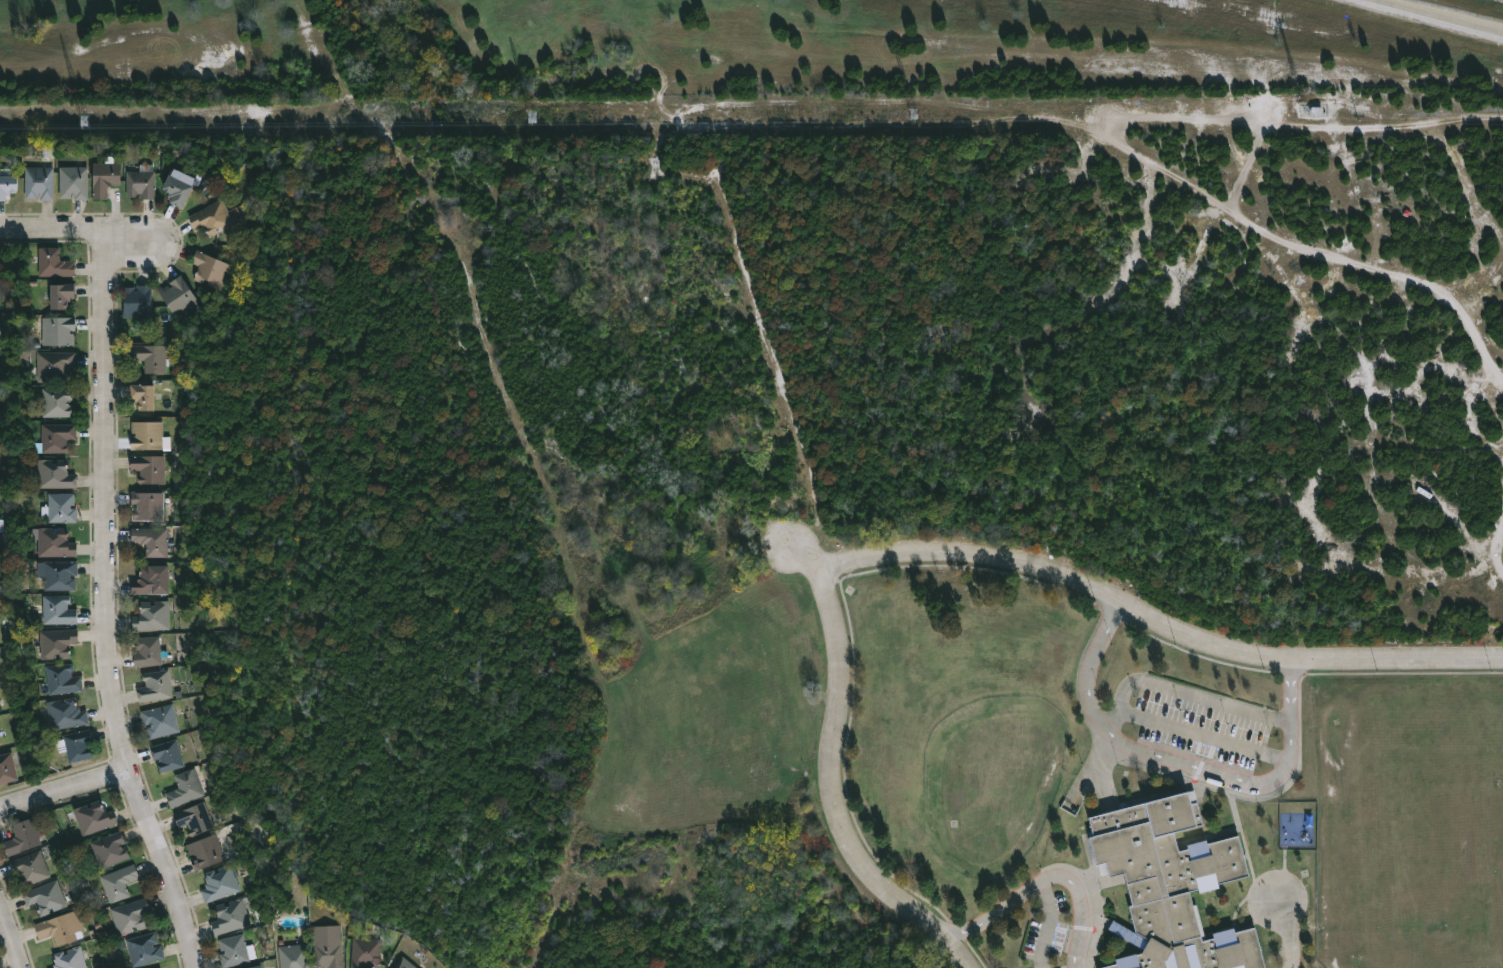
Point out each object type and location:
road: (1443, 15)
power tower: (1307, 110)
power tower: (916, 114)
power tower: (535, 118)
power tower: (87, 122)
building: (107, 179)
building: (42, 183)
building: (78, 183)
building: (144, 183)
building: (9, 188)
building: (184, 189)
building: (221, 218)
road: (57, 230)
road: (130, 242)
building: (57, 264)
building: (214, 270)
building: (182, 295)
building: (66, 298)
building: (140, 302)
building: (61, 332)
building: (154, 358)
building: (57, 364)
building: (148, 396)
building: (61, 401)
building: (148, 434)
building: (59, 437)
building: (2, 439)
building: (0, 463)
building: (150, 467)
building: (59, 474)
building: (148, 506)
building: (65, 507)
building: (2, 525)
building: (153, 540)
building: (57, 542)
road: (899, 552)
building: (1, 558)
building: (61, 574)
building: (151, 580)
building: (1, 592)
building: (62, 610)
road: (107, 612)
building: (153, 617)
building: (61, 642)
building: (150, 651)
road: (1227, 651)
building: (66, 679)
building: (158, 686)
road: (1186, 692)
building: (70, 714)
building: (163, 720)
road: (1203, 735)
building: (2, 736)
building: (81, 745)
building: (170, 756)
road: (1178, 763)
building: (8, 769)
road: (64, 788)
building: (188, 789)
road: (834, 794)
building: (97, 818)
building: (197, 818)
building: (26, 838)
building: (113, 849)
building: (207, 852)
building: (32, 869)
building: (122, 883)
building: (222, 884)
building: (1170, 885)
building: (47, 898)
road: (1081, 907)
road: (995, 913)
building: (232, 916)
building: (133, 917)
road: (1048, 925)
building: (62, 928)
road: (1292, 929)
road: (10, 937)
building: (328, 946)
building: (147, 949)
building: (236, 950)
building: (364, 952)
building: (291, 956)
building: (72, 959)
building: (403, 964)
building: (258, 966)

